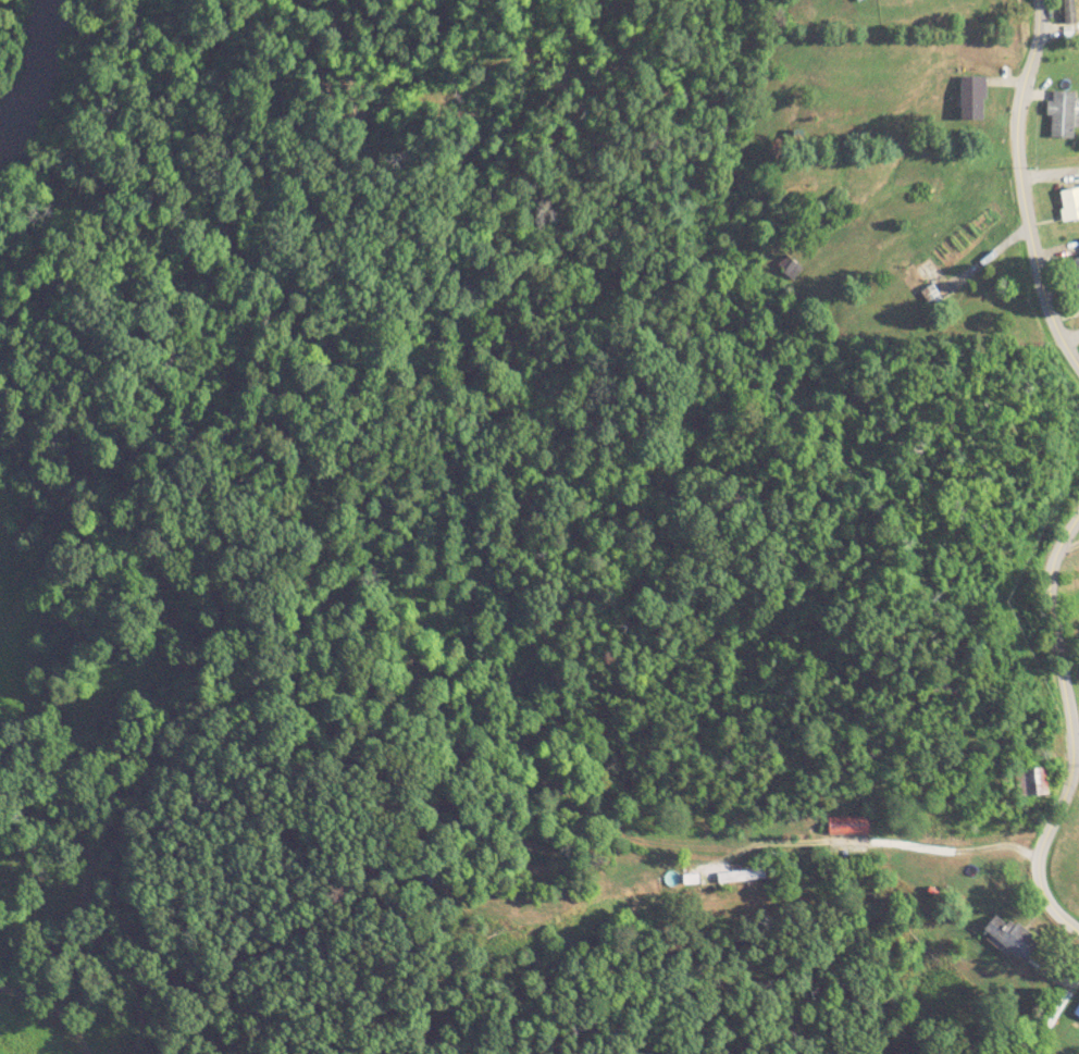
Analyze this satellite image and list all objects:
building: (856, 0)
building: (1069, 11)
river: (28, 58)
building: (972, 98)
building: (1062, 115)
road: (1024, 187)
building: (1070, 203)
building: (787, 265)
building: (1077, 266)
building: (925, 281)
road: (1072, 333)
road: (1074, 728)
building: (1027, 783)
building: (847, 827)
road: (870, 857)
building: (742, 877)
building: (1013, 937)
building: (1077, 1012)
road: (1058, 1021)

